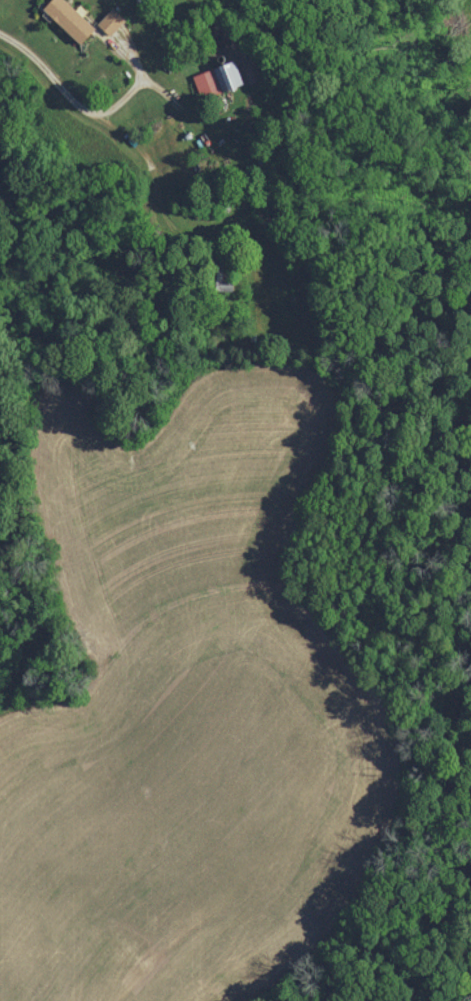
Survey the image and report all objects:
building: (72, 20)
building: (113, 22)
building: (220, 81)
road: (67, 97)

